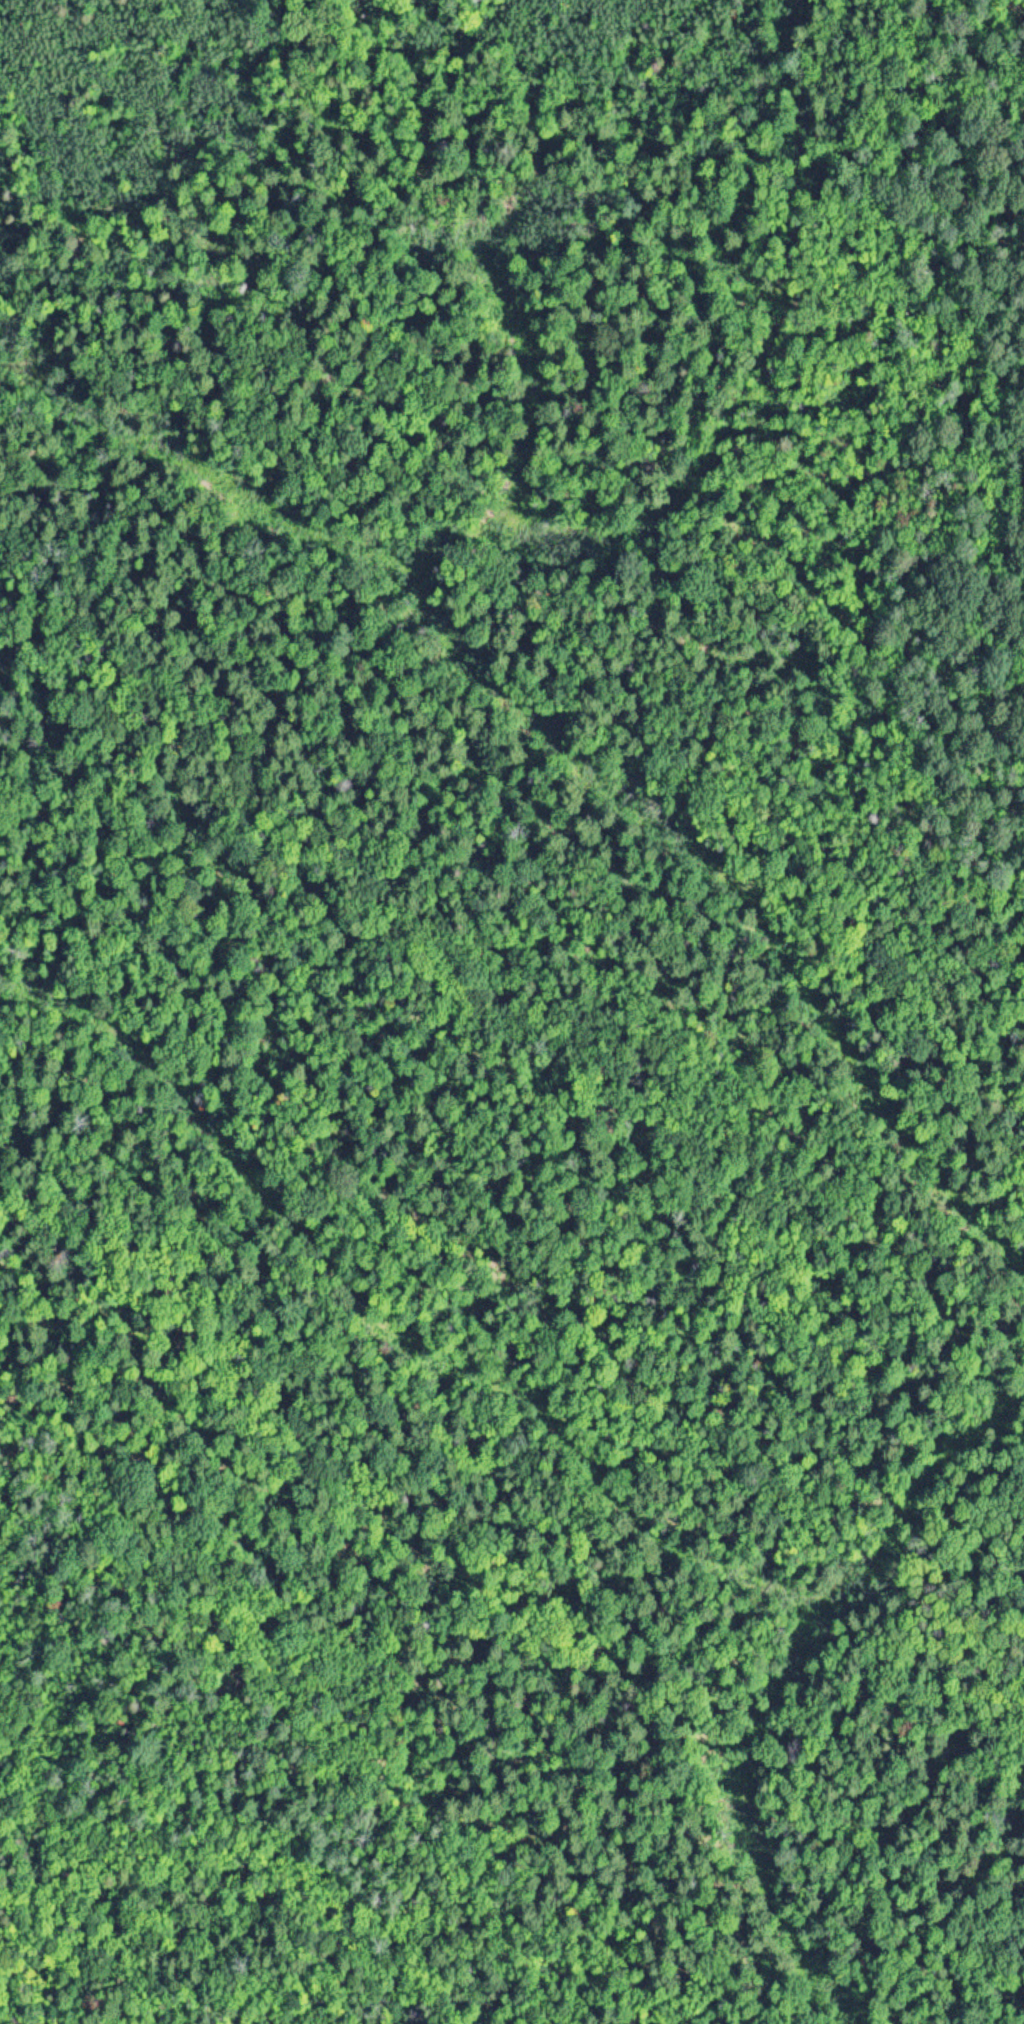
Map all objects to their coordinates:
road: (562, 744)
road: (398, 1316)
road: (794, 1698)

